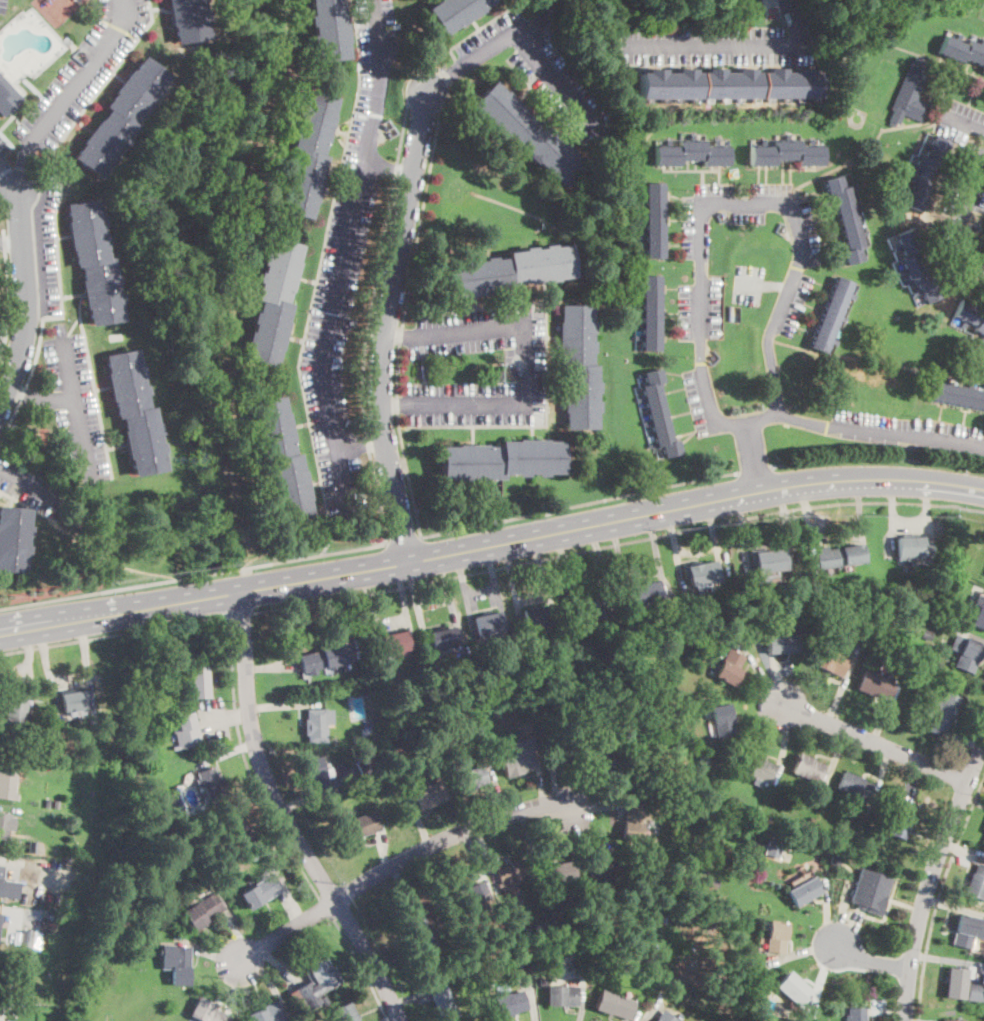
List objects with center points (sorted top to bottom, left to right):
building: (76, 0)
parking lot: (3, 6)
building: (453, 12)
road: (547, 15)
building: (188, 20)
road: (794, 22)
road: (478, 28)
building: (328, 30)
road: (493, 44)
parking lot: (716, 44)
road: (716, 44)
building: (962, 50)
building: (983, 70)
parking lot: (83, 71)
road: (84, 72)
parking lot: (541, 73)
road: (444, 78)
road: (554, 79)
building: (732, 83)
building: (910, 94)
building: (8, 97)
building: (120, 117)
building: (857, 118)
road: (963, 121)
parking lot: (960, 124)
building: (527, 134)
road: (9, 141)
parking lot: (3, 148)
building: (786, 152)
building: (691, 153)
building: (308, 155)
road: (24, 165)
road: (389, 168)
building: (924, 173)
road: (9, 177)
road: (742, 201)
road: (53, 214)
building: (847, 219)
building: (653, 220)
parking lot: (968, 224)
road: (961, 228)
parking lot: (45, 237)
road: (11, 245)
road: (345, 253)
building: (94, 262)
parking lot: (345, 263)
building: (915, 267)
parking lot: (803, 269)
building: (510, 271)
road: (315, 279)
parking lot: (748, 283)
road: (763, 285)
road: (7, 293)
road: (27, 300)
building: (273, 302)
building: (649, 313)
building: (832, 315)
building: (969, 317)
road: (364, 323)
road: (402, 323)
road: (385, 324)
road: (395, 335)
building: (579, 366)
road: (524, 367)
parking lot: (524, 370)
building: (957, 394)
road: (40, 399)
parking lot: (701, 402)
road: (392, 404)
parking lot: (75, 405)
road: (75, 408)
building: (135, 413)
building: (656, 413)
road: (537, 426)
road: (850, 429)
parking lot: (910, 433)
road: (361, 446)
road: (752, 453)
road: (878, 457)
building: (281, 459)
building: (502, 460)
road: (755, 469)
road: (27, 483)
parking lot: (31, 486)
road: (579, 504)
road: (806, 512)
road: (861, 519)
road: (787, 523)
road: (906, 525)
road: (745, 529)
road: (931, 533)
road: (714, 537)
building: (13, 538)
road: (888, 539)
road: (403, 540)
road: (491, 541)
road: (617, 543)
road: (675, 543)
building: (913, 547)
road: (656, 549)
road: (619, 553)
building: (838, 555)
road: (570, 563)
building: (768, 563)
building: (700, 573)
road: (192, 575)
road: (512, 576)
road: (481, 592)
building: (646, 592)
building: (917, 592)
road: (451, 597)
building: (948, 597)
road: (499, 598)
road: (468, 600)
road: (434, 603)
building: (588, 603)
road: (405, 605)
road: (416, 605)
road: (372, 612)
road: (238, 613)
building: (978, 613)
building: (968, 616)
building: (536, 617)
road: (391, 621)
building: (487, 623)
road: (967, 634)
building: (924, 635)
building: (858, 636)
building: (441, 638)
building: (394, 642)
building: (658, 643)
building: (783, 643)
road: (230, 653)
building: (966, 653)
building: (680, 656)
building: (324, 658)
road: (29, 659)
building: (831, 661)
road: (86, 662)
road: (271, 666)
building: (729, 667)
road: (763, 674)
road: (780, 679)
building: (198, 682)
building: (876, 685)
road: (841, 688)
building: (74, 701)
road: (285, 705)
building: (943, 712)
road: (238, 714)
road: (886, 714)
building: (12, 715)
building: (645, 715)
road: (216, 720)
building: (723, 720)
parking lot: (214, 722)
building: (317, 724)
building: (524, 726)
road: (755, 726)
building: (186, 731)
building: (365, 731)
road: (964, 742)
road: (783, 743)
road: (876, 743)
road: (983, 749)
building: (143, 750)
building: (570, 750)
road: (225, 752)
building: (6, 758)
building: (516, 763)
building: (366, 765)
road: (833, 766)
building: (808, 767)
building: (717, 768)
building: (758, 769)
road: (883, 769)
building: (619, 772)
building: (318, 774)
building: (467, 777)
road: (912, 779)
road: (539, 782)
building: (211, 783)
building: (8, 784)
road: (585, 786)
building: (854, 787)
building: (155, 788)
road: (319, 792)
road: (499, 793)
building: (360, 794)
building: (427, 794)
building: (673, 795)
road: (246, 799)
road: (973, 799)
building: (56, 804)
road: (1, 807)
road: (607, 807)
road: (284, 817)
building: (749, 819)
building: (900, 819)
road: (419, 823)
building: (633, 824)
building: (235, 826)
building: (357, 827)
building: (4, 829)
road: (594, 831)
building: (843, 839)
building: (983, 839)
building: (652, 840)
road: (532, 843)
building: (32, 845)
road: (383, 847)
building: (773, 849)
road: (963, 849)
road: (474, 853)
road: (486, 857)
building: (835, 858)
road: (396, 863)
building: (604, 869)
building: (511, 871)
building: (558, 876)
road: (930, 878)
building: (976, 882)
road: (404, 886)
building: (8, 887)
building: (262, 891)
building: (870, 891)
building: (804, 892)
road: (938, 895)
building: (468, 896)
road: (954, 905)
road: (0, 907)
road: (326, 907)
building: (201, 910)
road: (289, 910)
road: (827, 910)
road: (845, 913)
road: (853, 923)
building: (547, 930)
building: (967, 930)
road: (238, 934)
building: (421, 935)
building: (776, 936)
building: (26, 937)
road: (210, 947)
road: (803, 950)
building: (652, 956)
road: (944, 957)
building: (521, 958)
road: (872, 960)
building: (177, 963)
road: (281, 964)
road: (362, 967)
building: (745, 973)
road: (267, 976)
road: (825, 977)
building: (544, 981)
building: (956, 981)
building: (314, 987)
building: (747, 989)
building: (792, 989)
building: (11, 990)
road: (239, 991)
building: (974, 992)
road: (531, 995)
building: (562, 995)
road: (410, 999)
building: (443, 1002)
road: (582, 1002)
building: (511, 1003)
building: (613, 1005)
road: (652, 1007)
road: (887, 1011)
building: (207, 1012)
building: (266, 1013)
building: (345, 1013)
building: (857, 1014)
road: (391, 1017)
building: (661, 1018)
building: (3, 1020)
building: (952, 1020)

